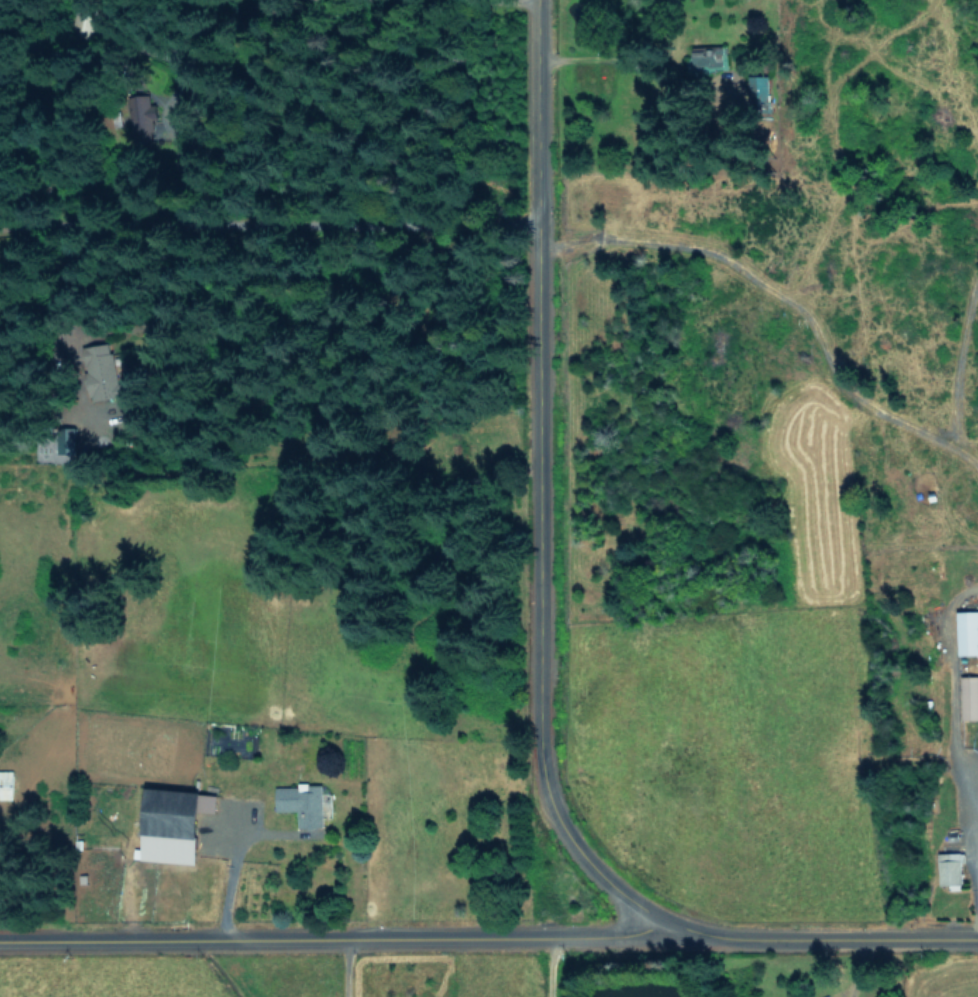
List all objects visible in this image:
road: (347, 221)
building: (65, 441)
road: (530, 471)
building: (967, 631)
building: (969, 696)
building: (6, 784)
road: (976, 791)
building: (301, 802)
building: (172, 823)
building: (950, 868)
road: (227, 869)
road: (805, 930)
road: (324, 937)
road: (342, 966)
road: (562, 966)

